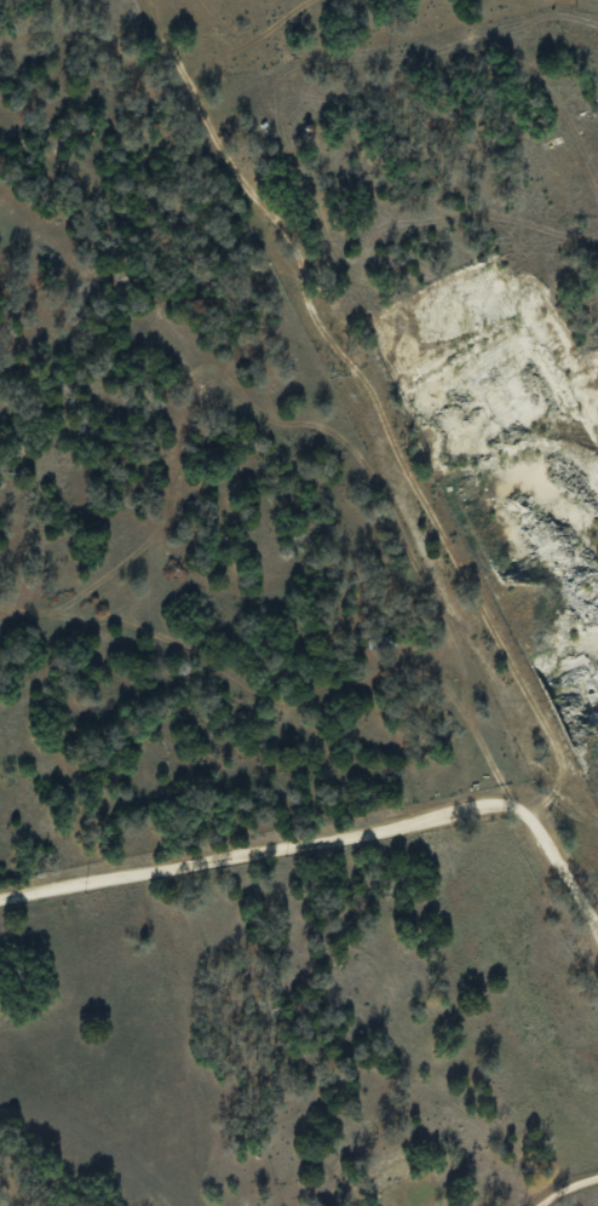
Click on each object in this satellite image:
quarry: (517, 463)
road: (329, 834)
road: (565, 1187)

